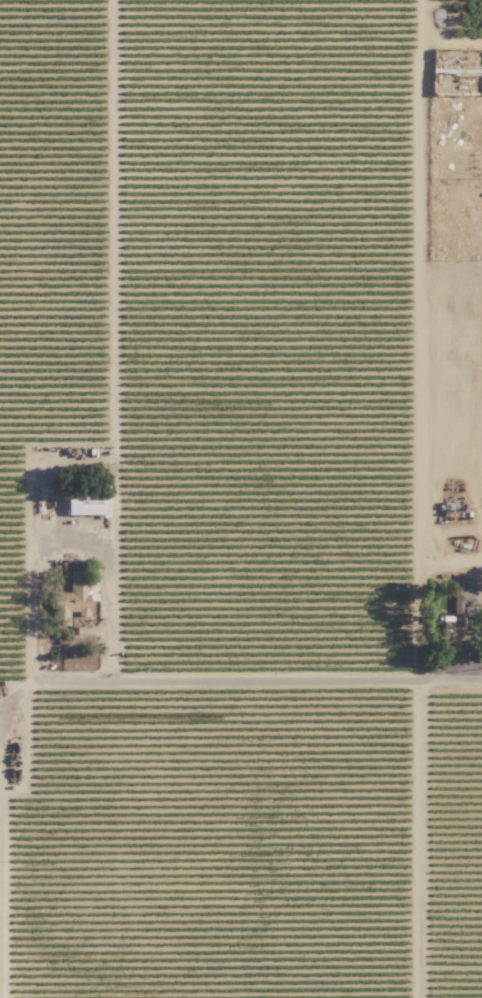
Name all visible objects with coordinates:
building: (79, 509)
road: (69, 523)
road: (451, 547)
road: (243, 687)
road: (418, 842)

